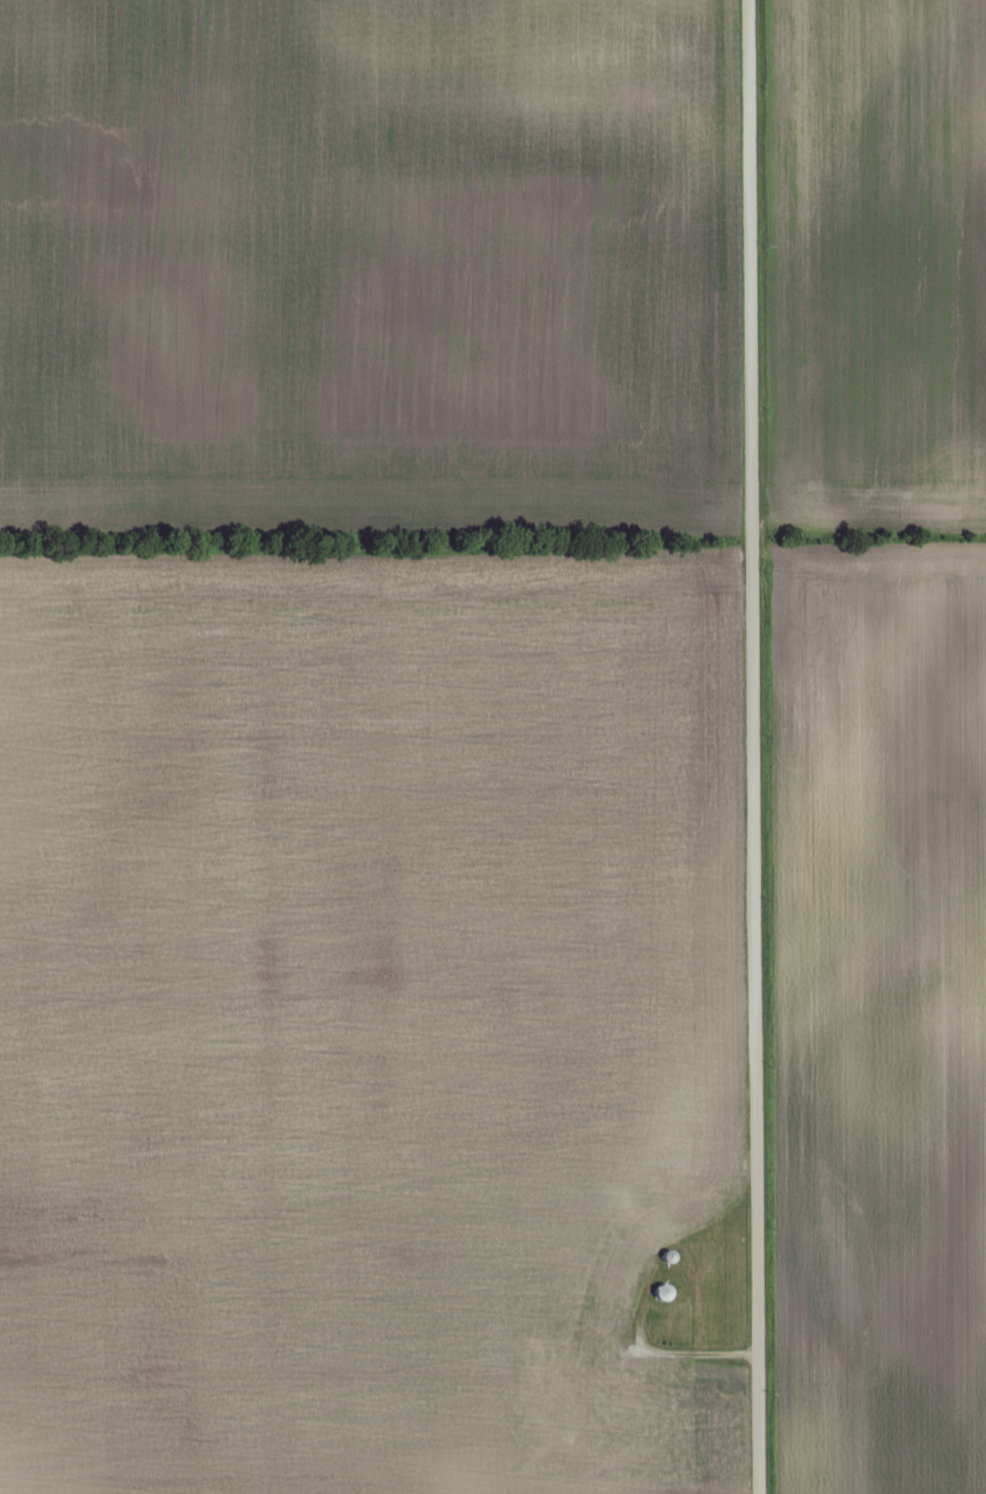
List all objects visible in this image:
road: (747, 746)
road: (697, 1351)

